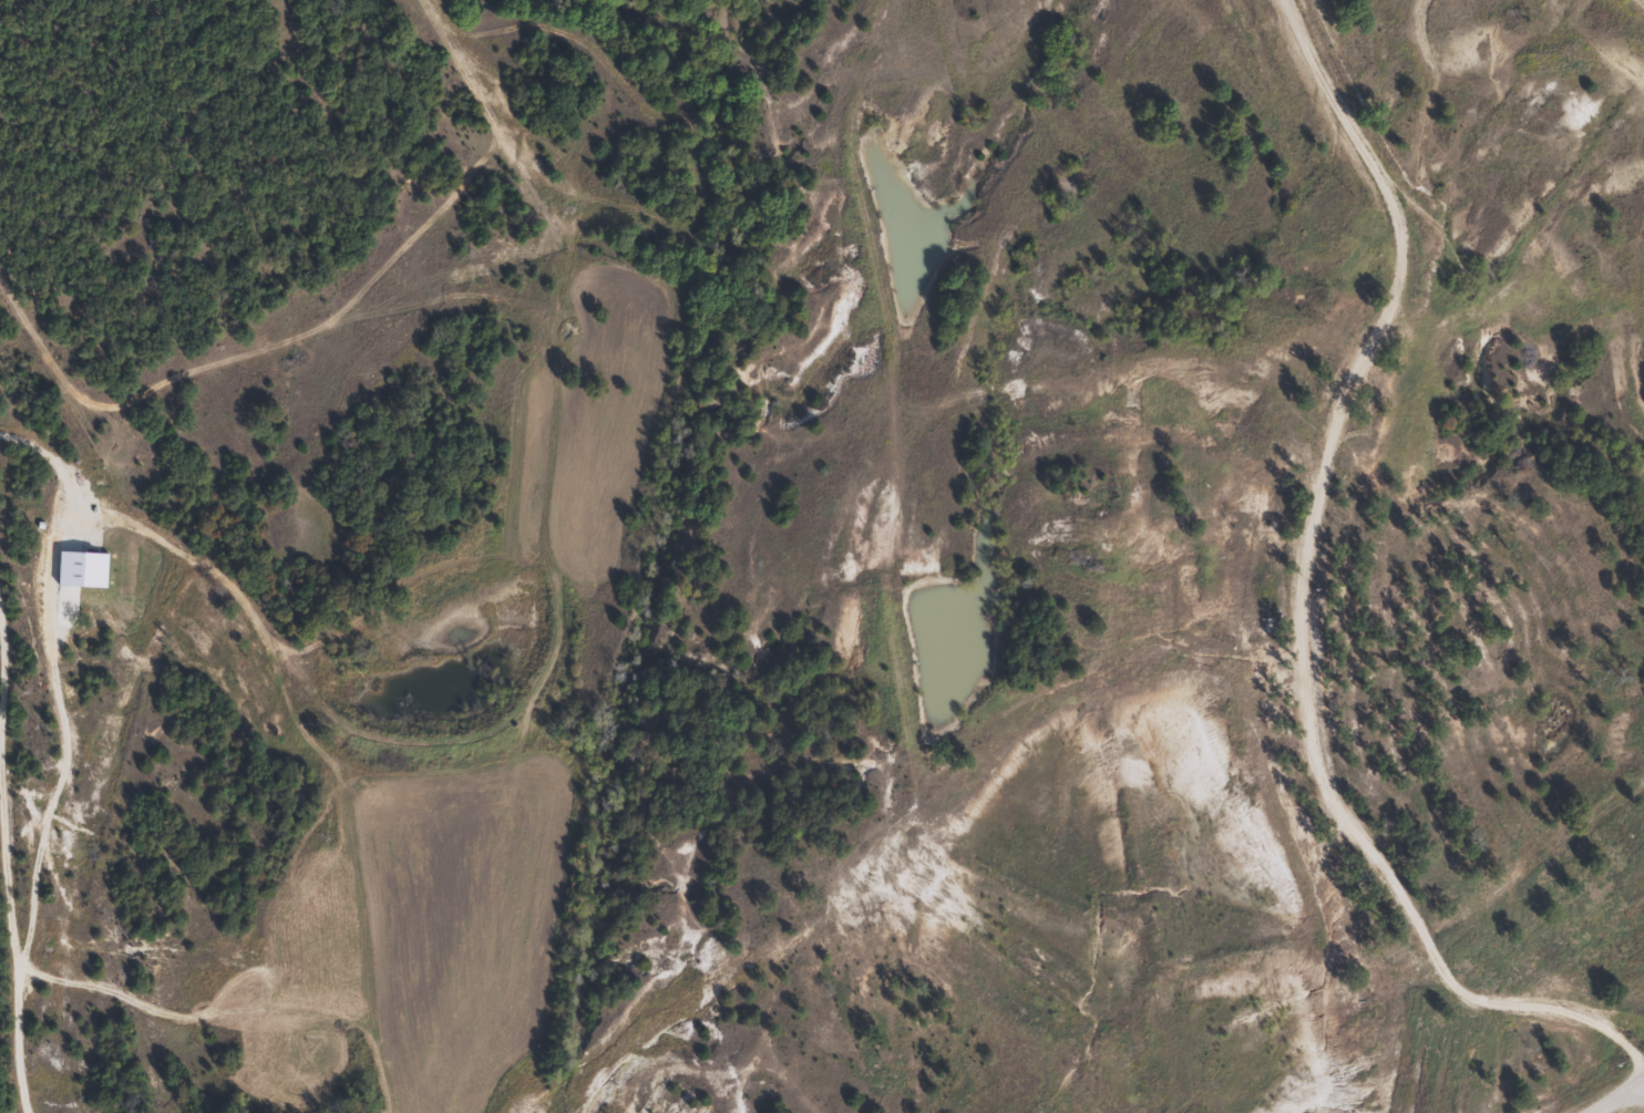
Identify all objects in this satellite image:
road: (1298, 581)
road: (12, 907)
road: (1617, 1096)

